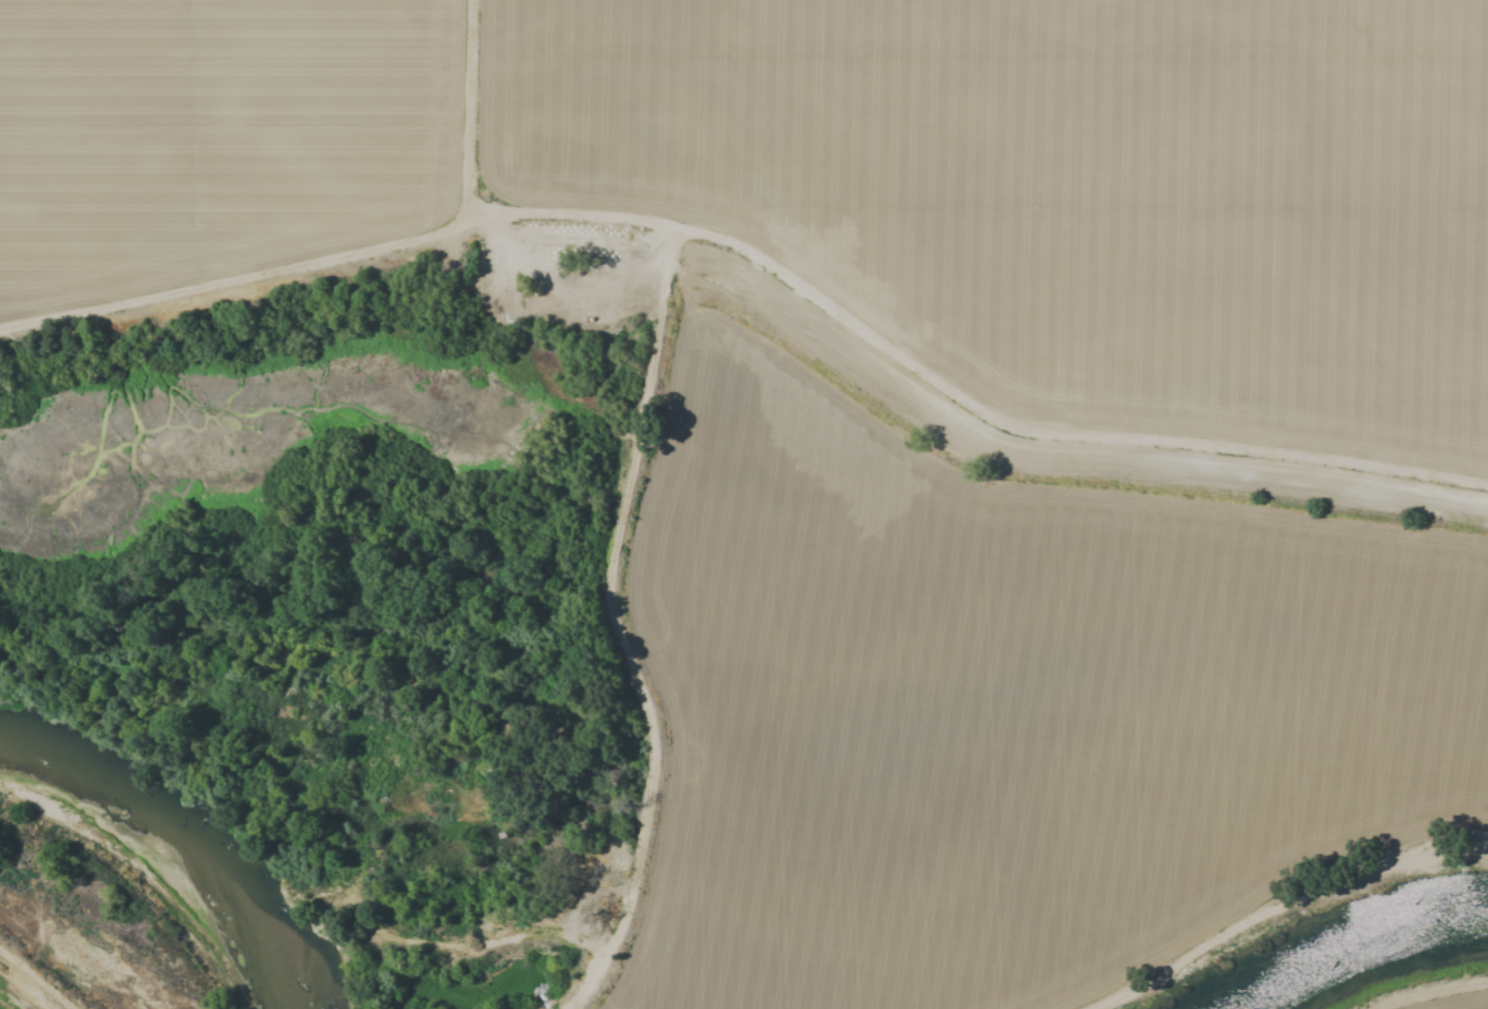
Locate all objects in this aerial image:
river: (143, 884)
road: (1430, 989)

